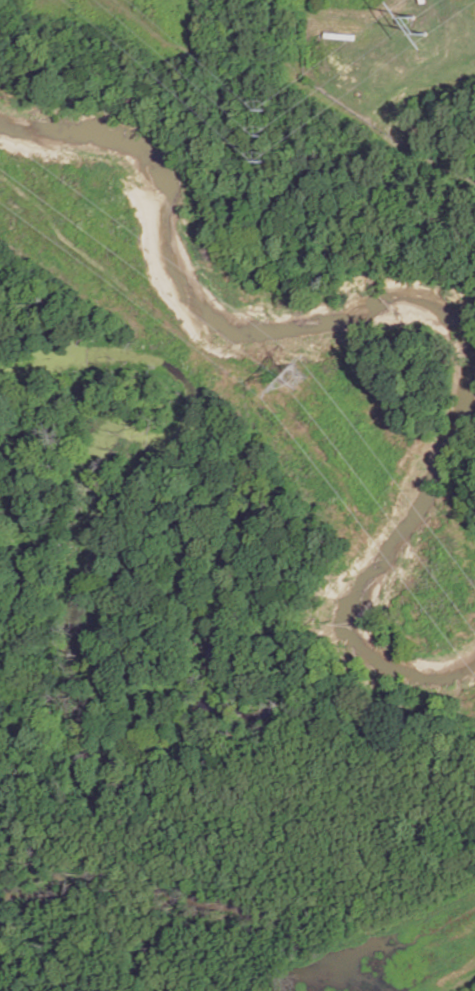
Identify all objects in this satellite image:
power tower: (416, 25)
power tower: (259, 134)
power tower: (307, 373)

